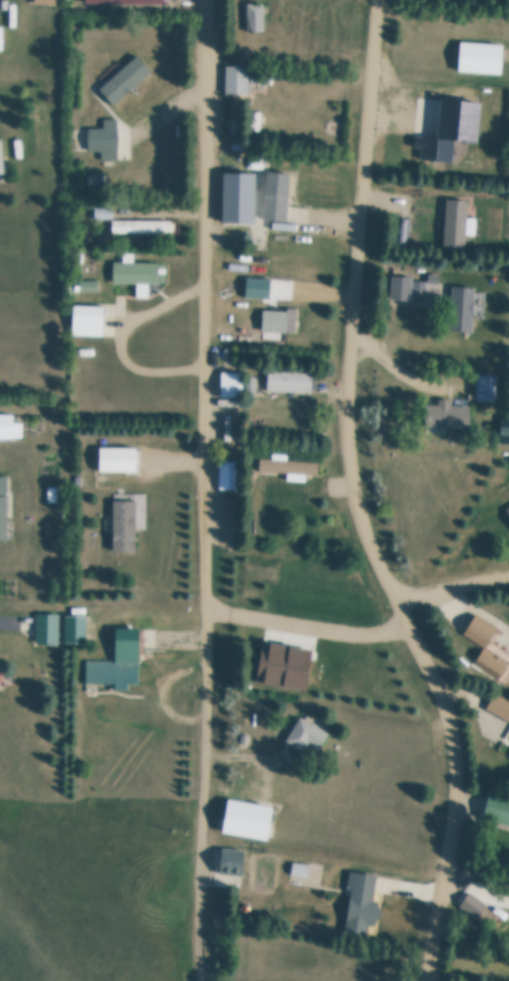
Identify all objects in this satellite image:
building: (4, 6)
building: (255, 18)
building: (1, 39)
building: (481, 58)
building: (126, 80)
building: (237, 80)
building: (450, 126)
building: (104, 140)
building: (2, 156)
building: (97, 181)
building: (277, 196)
building: (239, 197)
building: (104, 214)
building: (436, 217)
building: (456, 225)
building: (142, 227)
building: (139, 274)
building: (433, 279)
building: (88, 287)
building: (258, 287)
building: (401, 288)
building: (419, 291)
building: (462, 309)
road: (209, 316)
building: (88, 321)
building: (275, 322)
building: (86, 353)
building: (226, 354)
building: (289, 381)
building: (232, 385)
building: (486, 388)
building: (447, 415)
building: (10, 428)
building: (504, 430)
building: (119, 460)
building: (289, 468)
building: (227, 475)
building: (78, 482)
building: (53, 495)
road: (363, 500)
building: (508, 505)
building: (4, 509)
building: (508, 509)
building: (124, 525)
road: (454, 586)
road: (13, 622)
building: (47, 629)
building: (75, 629)
building: (481, 631)
building: (118, 662)
building: (491, 664)
building: (283, 667)
building: (0, 689)
building: (500, 703)
building: (307, 736)
building: (244, 740)
road: (209, 751)
building: (498, 807)
building: (248, 819)
building: (232, 863)
building: (301, 870)
building: (362, 902)
building: (474, 904)
road: (202, 925)

